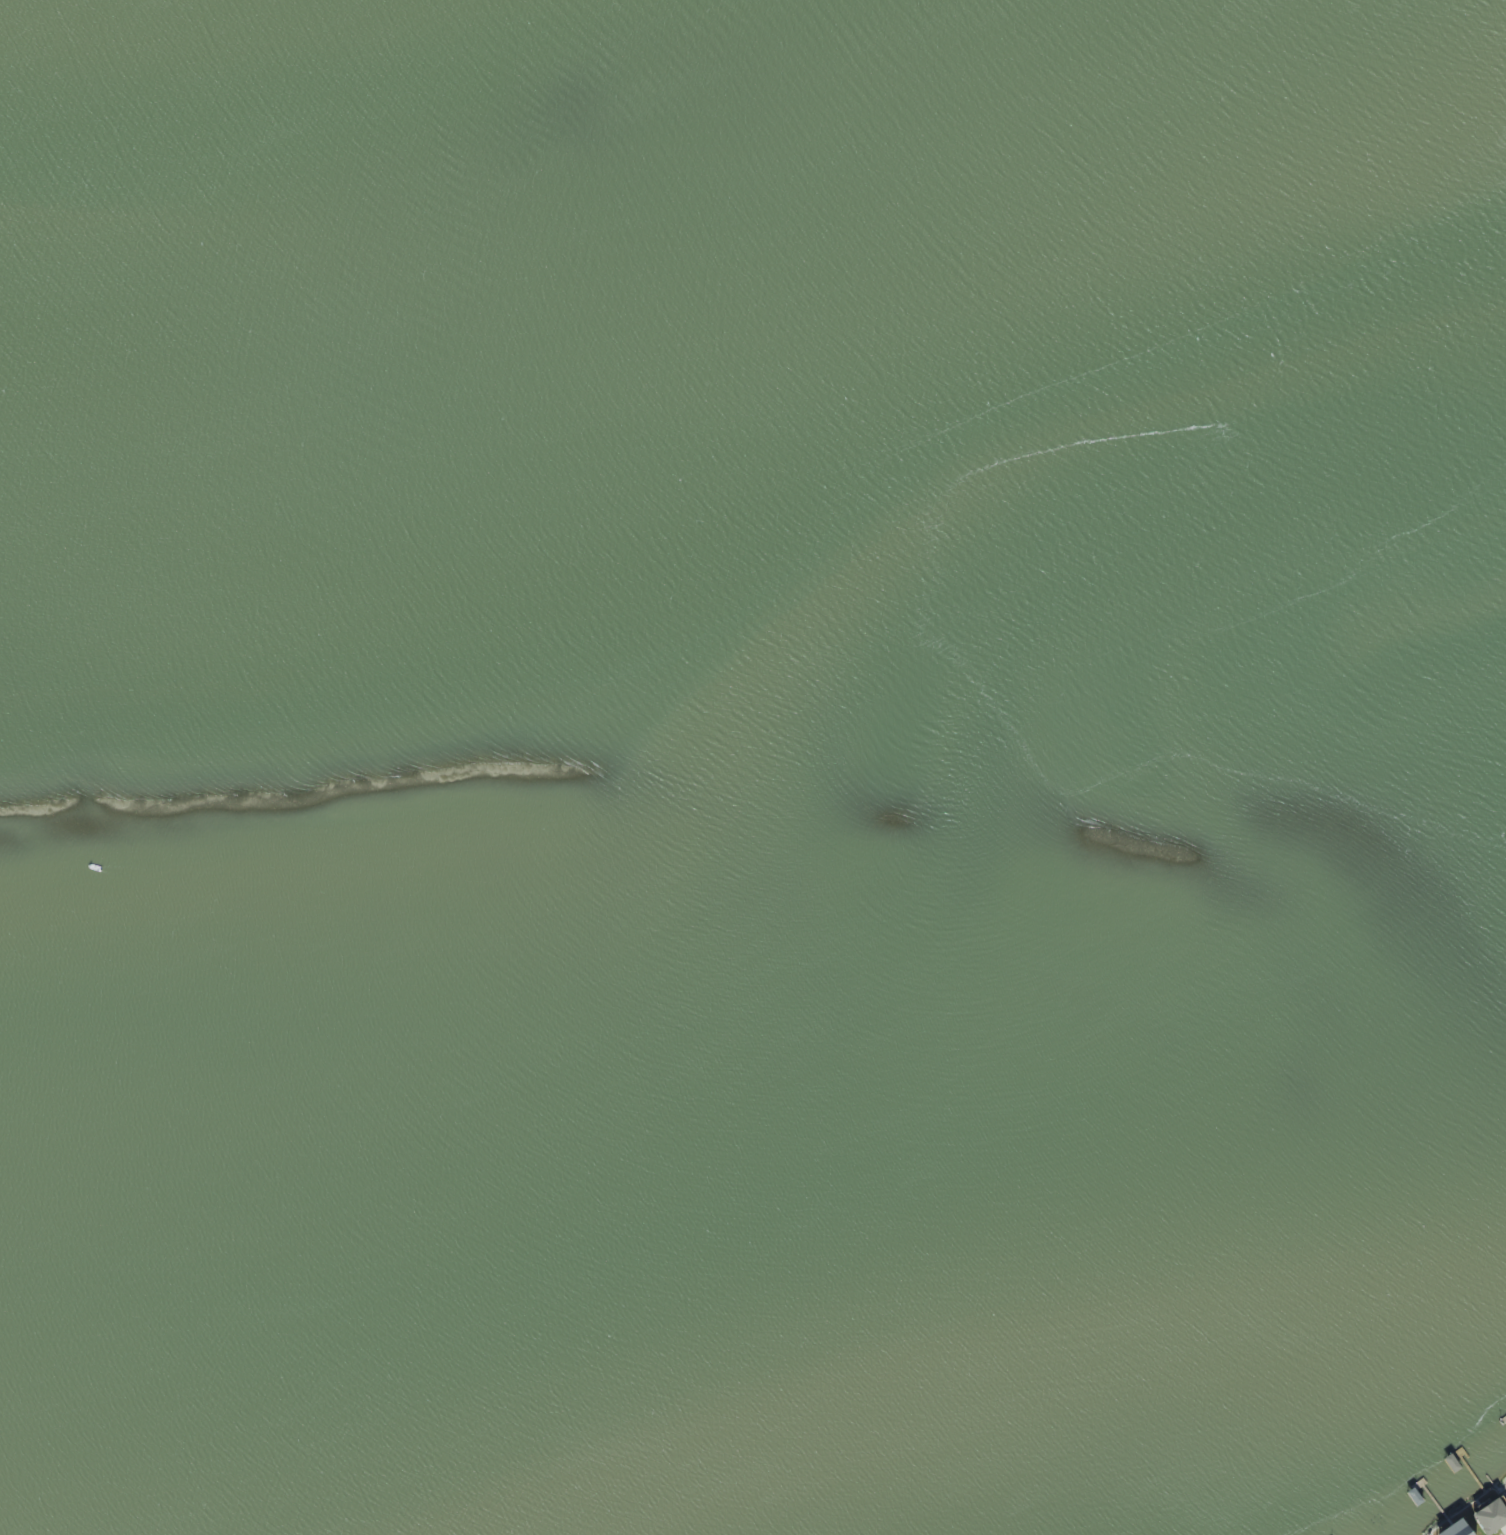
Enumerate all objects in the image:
building: (1491, 1515)
building: (1456, 1529)

